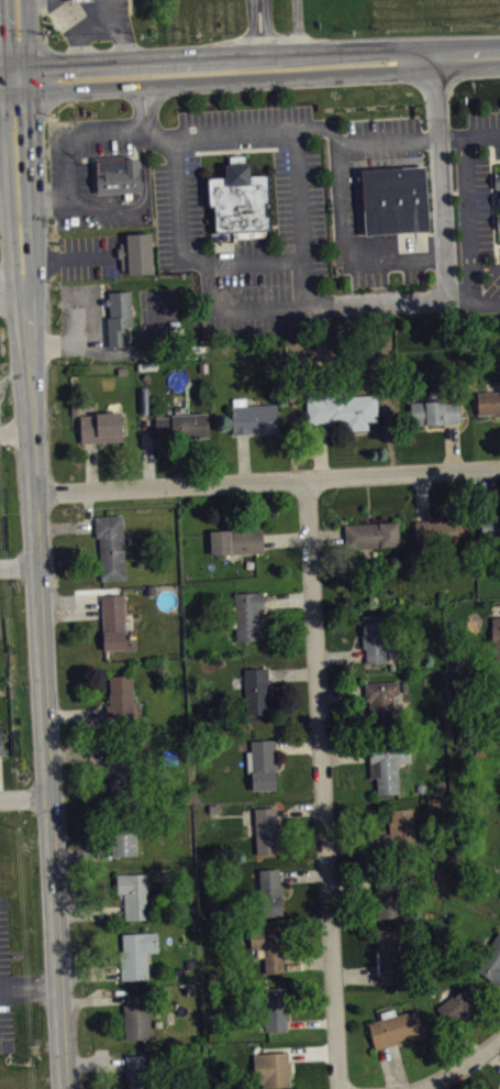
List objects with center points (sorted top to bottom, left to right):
building: (77, 0)
gas station: (77, 0)
road: (46, 2)
parking lot: (121, 8)
road: (43, 19)
road: (93, 20)
road: (260, 26)
road: (300, 26)
road: (120, 29)
road: (73, 30)
road: (26, 31)
road: (232, 55)
road: (468, 57)
road: (13, 63)
traffic signals: (27, 63)
road: (27, 76)
road: (233, 80)
road: (0, 85)
road: (13, 89)
traffic signals: (29, 89)
traffic signals: (1, 90)
road: (146, 109)
road: (74, 140)
parking lot: (368, 162)
parking lot: (101, 173)
building: (119, 175)
building: (497, 180)
road: (33, 193)
road: (5, 195)
road: (3, 197)
building: (240, 200)
road: (345, 201)
building: (395, 201)
road: (179, 212)
parking lot: (247, 219)
road: (301, 220)
road: (473, 220)
building: (498, 220)
road: (445, 231)
building: (135, 253)
road: (75, 264)
road: (259, 264)
road: (11, 295)
building: (118, 317)
building: (488, 403)
building: (342, 409)
building: (433, 411)
building: (253, 417)
building: (180, 426)
building: (100, 427)
road: (16, 433)
road: (267, 479)
building: (490, 526)
building: (440, 531)
building: (371, 535)
building: (236, 540)
building: (110, 546)
road: (18, 565)
building: (247, 614)
building: (114, 619)
building: (1, 634)
building: (374, 638)
building: (496, 639)
building: (256, 690)
road: (43, 692)
building: (121, 696)
building: (380, 700)
building: (1, 745)
building: (263, 765)
building: (118, 766)
building: (384, 767)
road: (323, 783)
road: (24, 796)
building: (265, 829)
building: (397, 834)
building: (123, 836)
building: (269, 891)
building: (390, 892)
building: (133, 894)
building: (268, 947)
building: (392, 952)
building: (136, 954)
building: (490, 960)
road: (29, 982)
parking lot: (5, 987)
building: (456, 1004)
building: (274, 1008)
building: (135, 1015)
building: (395, 1027)
road: (458, 1067)
building: (271, 1068)
building: (140, 1070)

